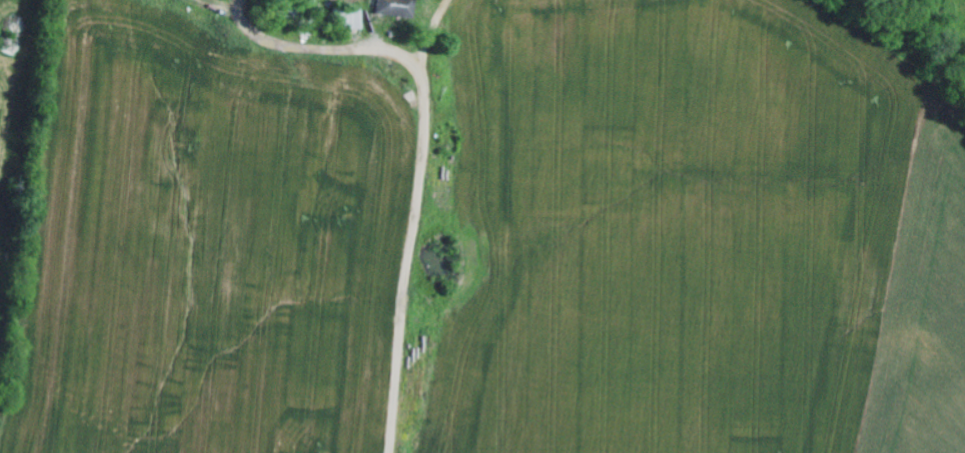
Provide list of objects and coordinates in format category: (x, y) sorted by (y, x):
building: (393, 9)

